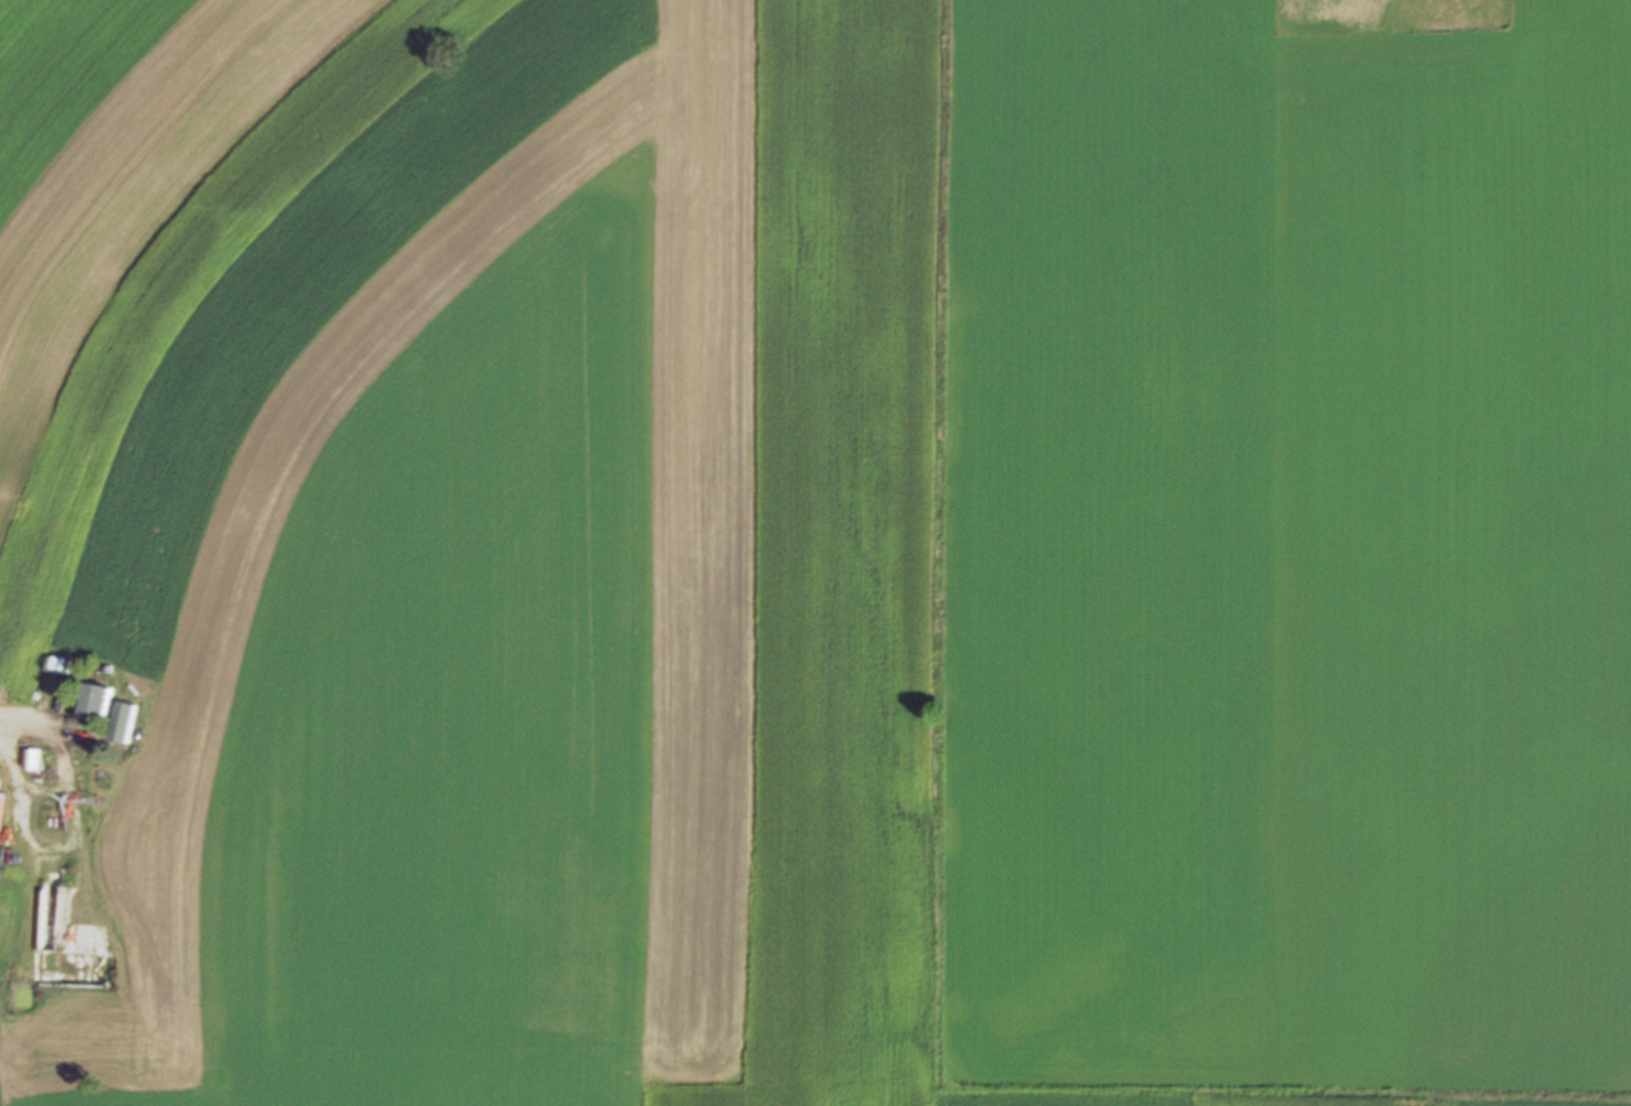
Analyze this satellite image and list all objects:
building: (59, 665)
building: (94, 702)
road: (29, 716)
building: (122, 724)
building: (31, 760)
building: (0, 799)

